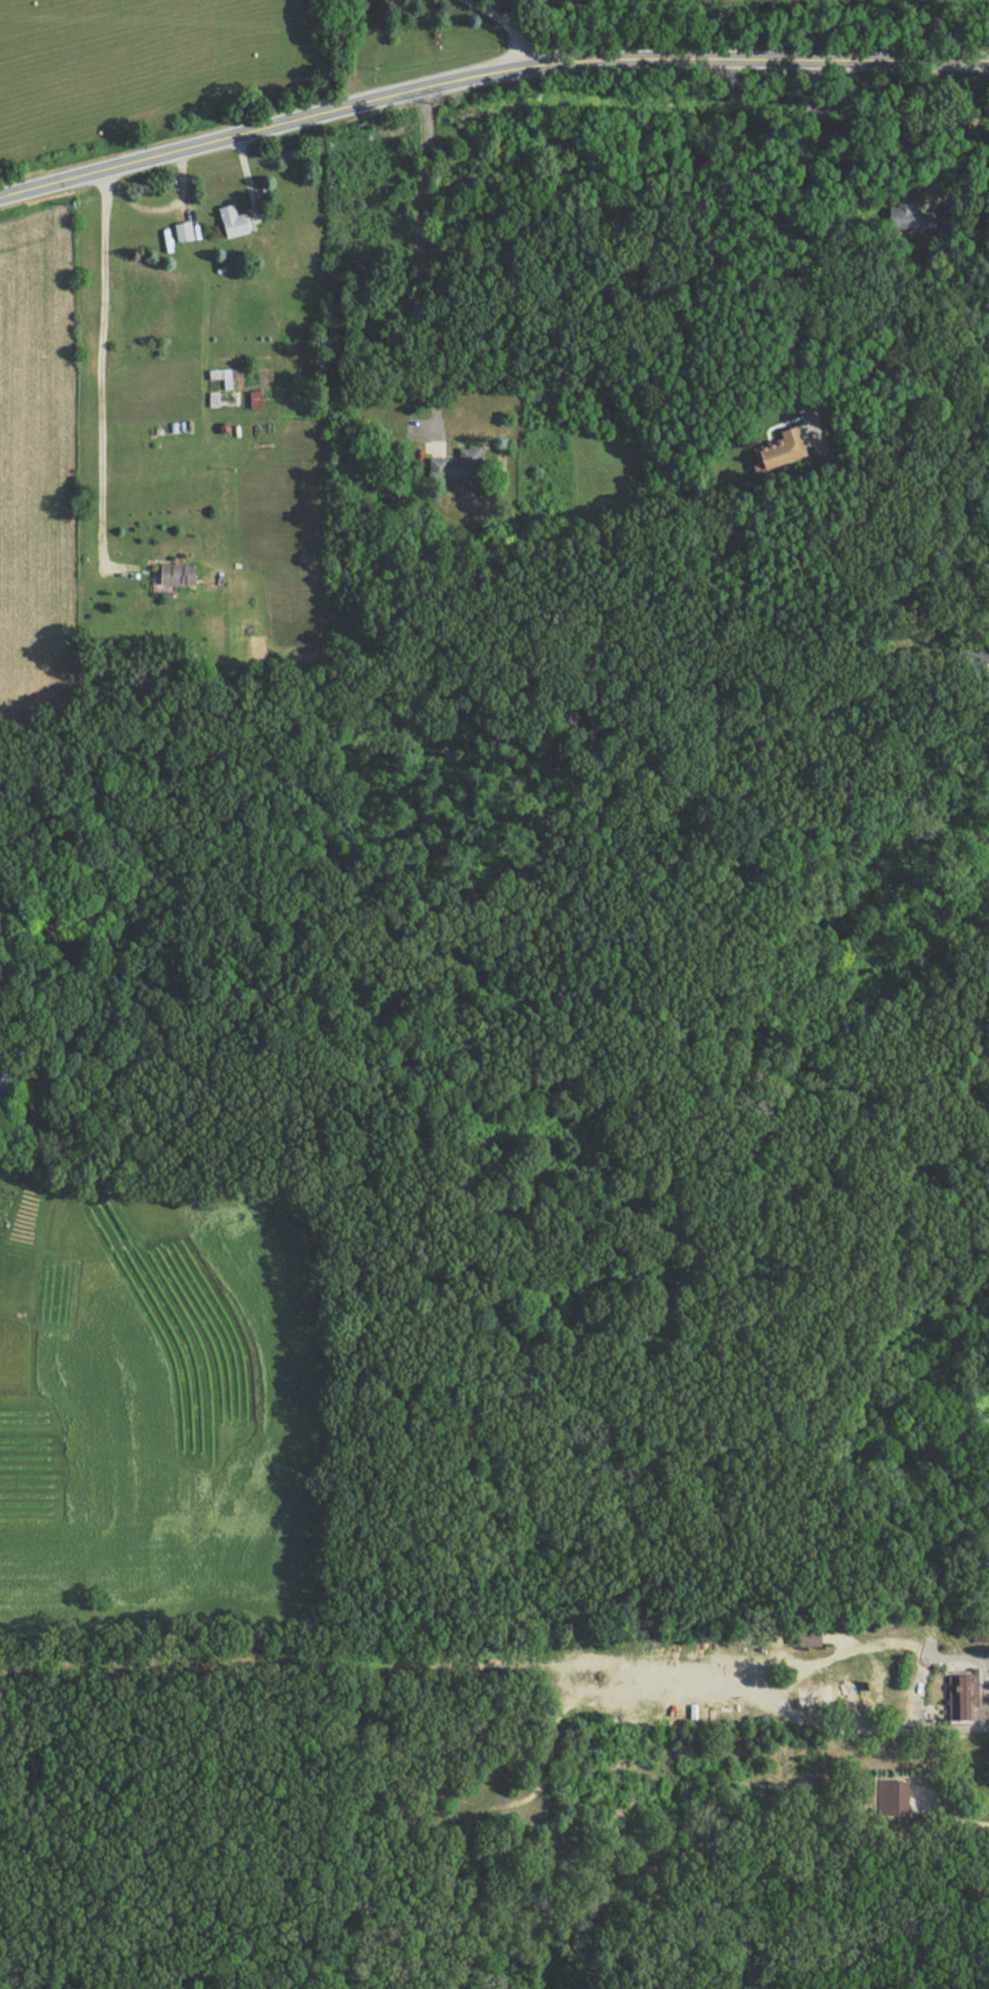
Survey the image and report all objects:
road: (502, 24)
crop: (141, 60)
road: (487, 71)
road: (972, 131)
building: (900, 217)
building: (234, 223)
building: (184, 233)
road: (791, 245)
road: (419, 260)
building: (220, 376)
road: (101, 377)
crop: (37, 452)
building: (781, 452)
building: (459, 466)
building: (180, 575)
building: (2, 1087)
building: (813, 1640)
road: (777, 1694)
building: (832, 1695)
building: (963, 1699)
building: (694, 1719)
building: (891, 1798)

